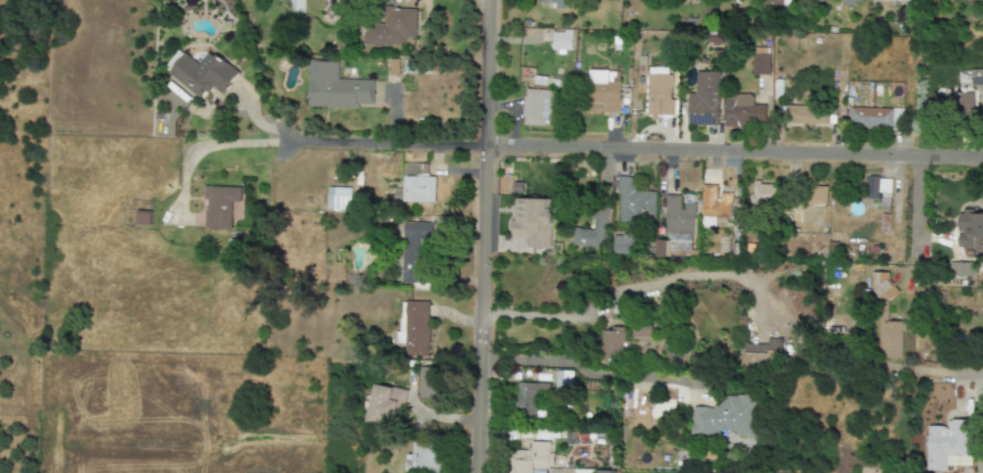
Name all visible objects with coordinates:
building: (891, 0)
building: (777, 2)
building: (848, 2)
building: (557, 3)
building: (297, 6)
building: (391, 28)
building: (833, 29)
building: (714, 38)
building: (818, 40)
building: (563, 43)
building: (760, 65)
building: (201, 73)
building: (597, 77)
building: (977, 77)
building: (541, 80)
building: (336, 88)
building: (658, 89)
building: (605, 97)
building: (705, 100)
building: (535, 107)
building: (955, 107)
building: (743, 112)
building: (813, 114)
building: (875, 116)
road: (205, 145)
road: (624, 149)
building: (415, 185)
building: (876, 186)
building: (765, 194)
building: (819, 195)
building: (339, 198)
building: (634, 200)
building: (715, 205)
building: (220, 206)
road: (912, 213)
building: (678, 214)
building: (144, 217)
building: (528, 226)
building: (969, 227)
building: (593, 230)
road: (483, 236)
building: (622, 243)
building: (661, 248)
building: (416, 252)
building: (960, 270)
road: (637, 288)
building: (884, 288)
building: (416, 329)
building: (642, 330)
building: (891, 338)
building: (774, 343)
building: (610, 345)
building: (755, 349)
road: (591, 371)
road: (947, 372)
building: (563, 378)
building: (430, 382)
building: (531, 398)
building: (385, 404)
building: (723, 417)
building: (950, 440)
building: (424, 457)
building: (534, 460)
building: (583, 470)

